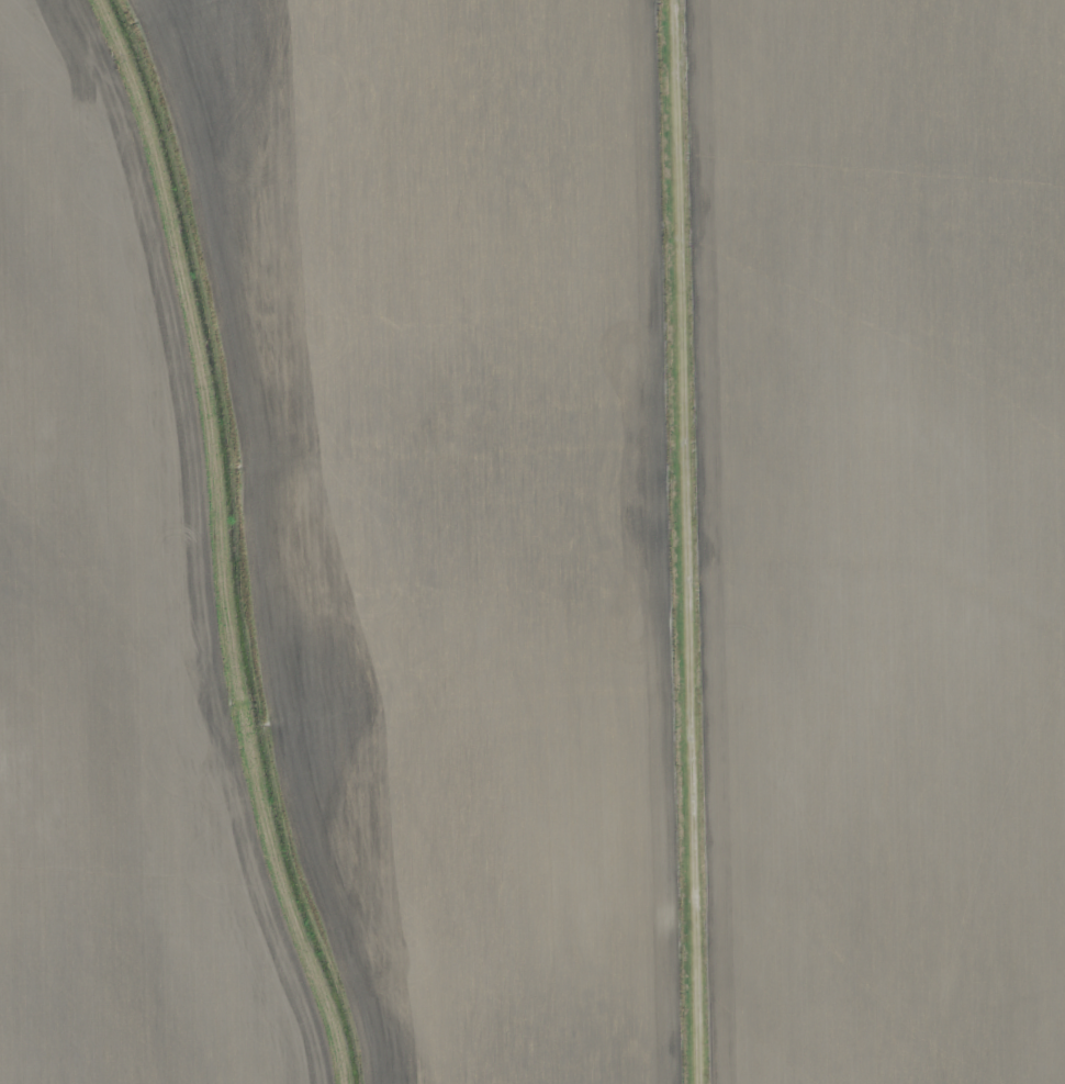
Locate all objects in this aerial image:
road: (703, 541)

